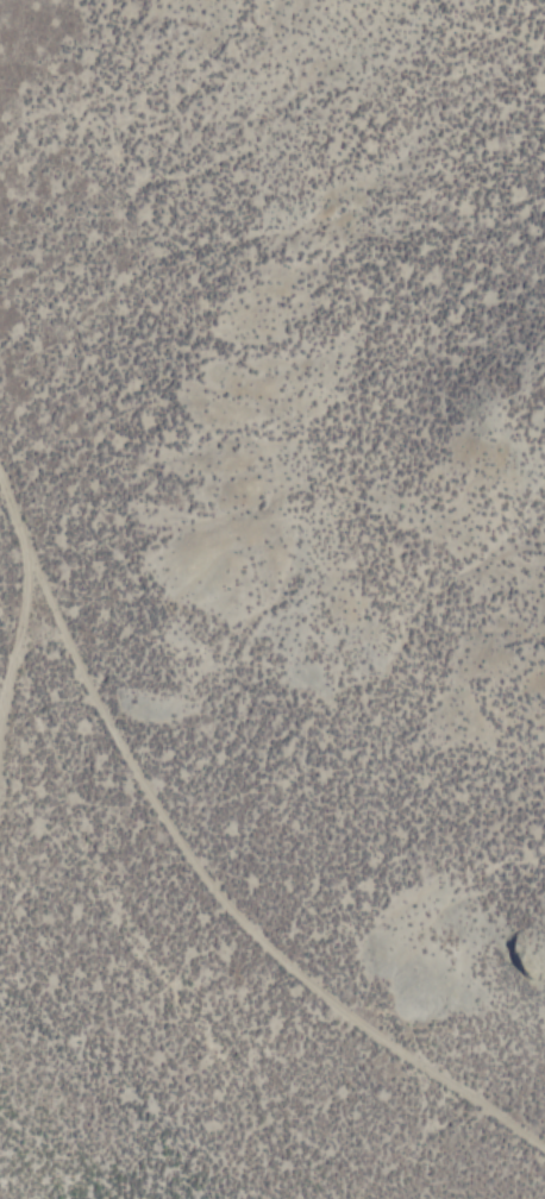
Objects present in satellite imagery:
road: (200, 871)

